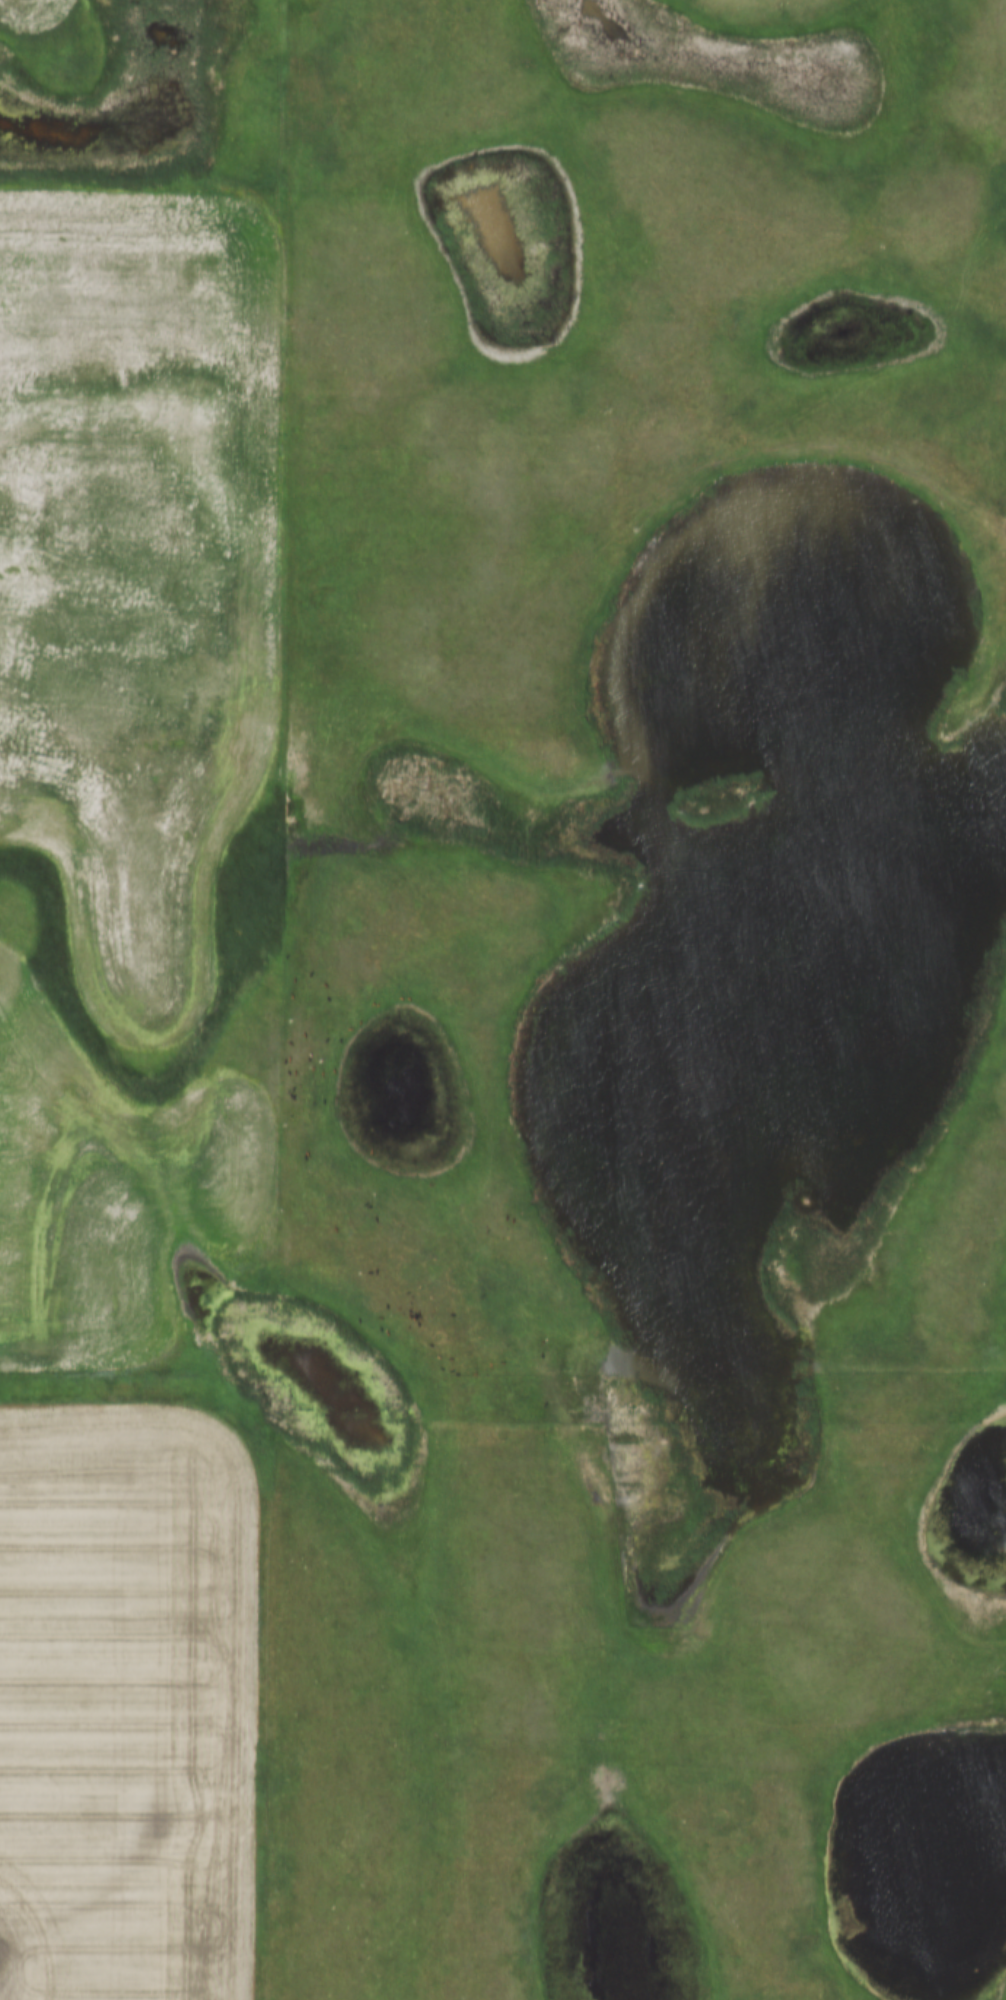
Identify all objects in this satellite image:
road: (304, 636)
road: (140, 1406)

